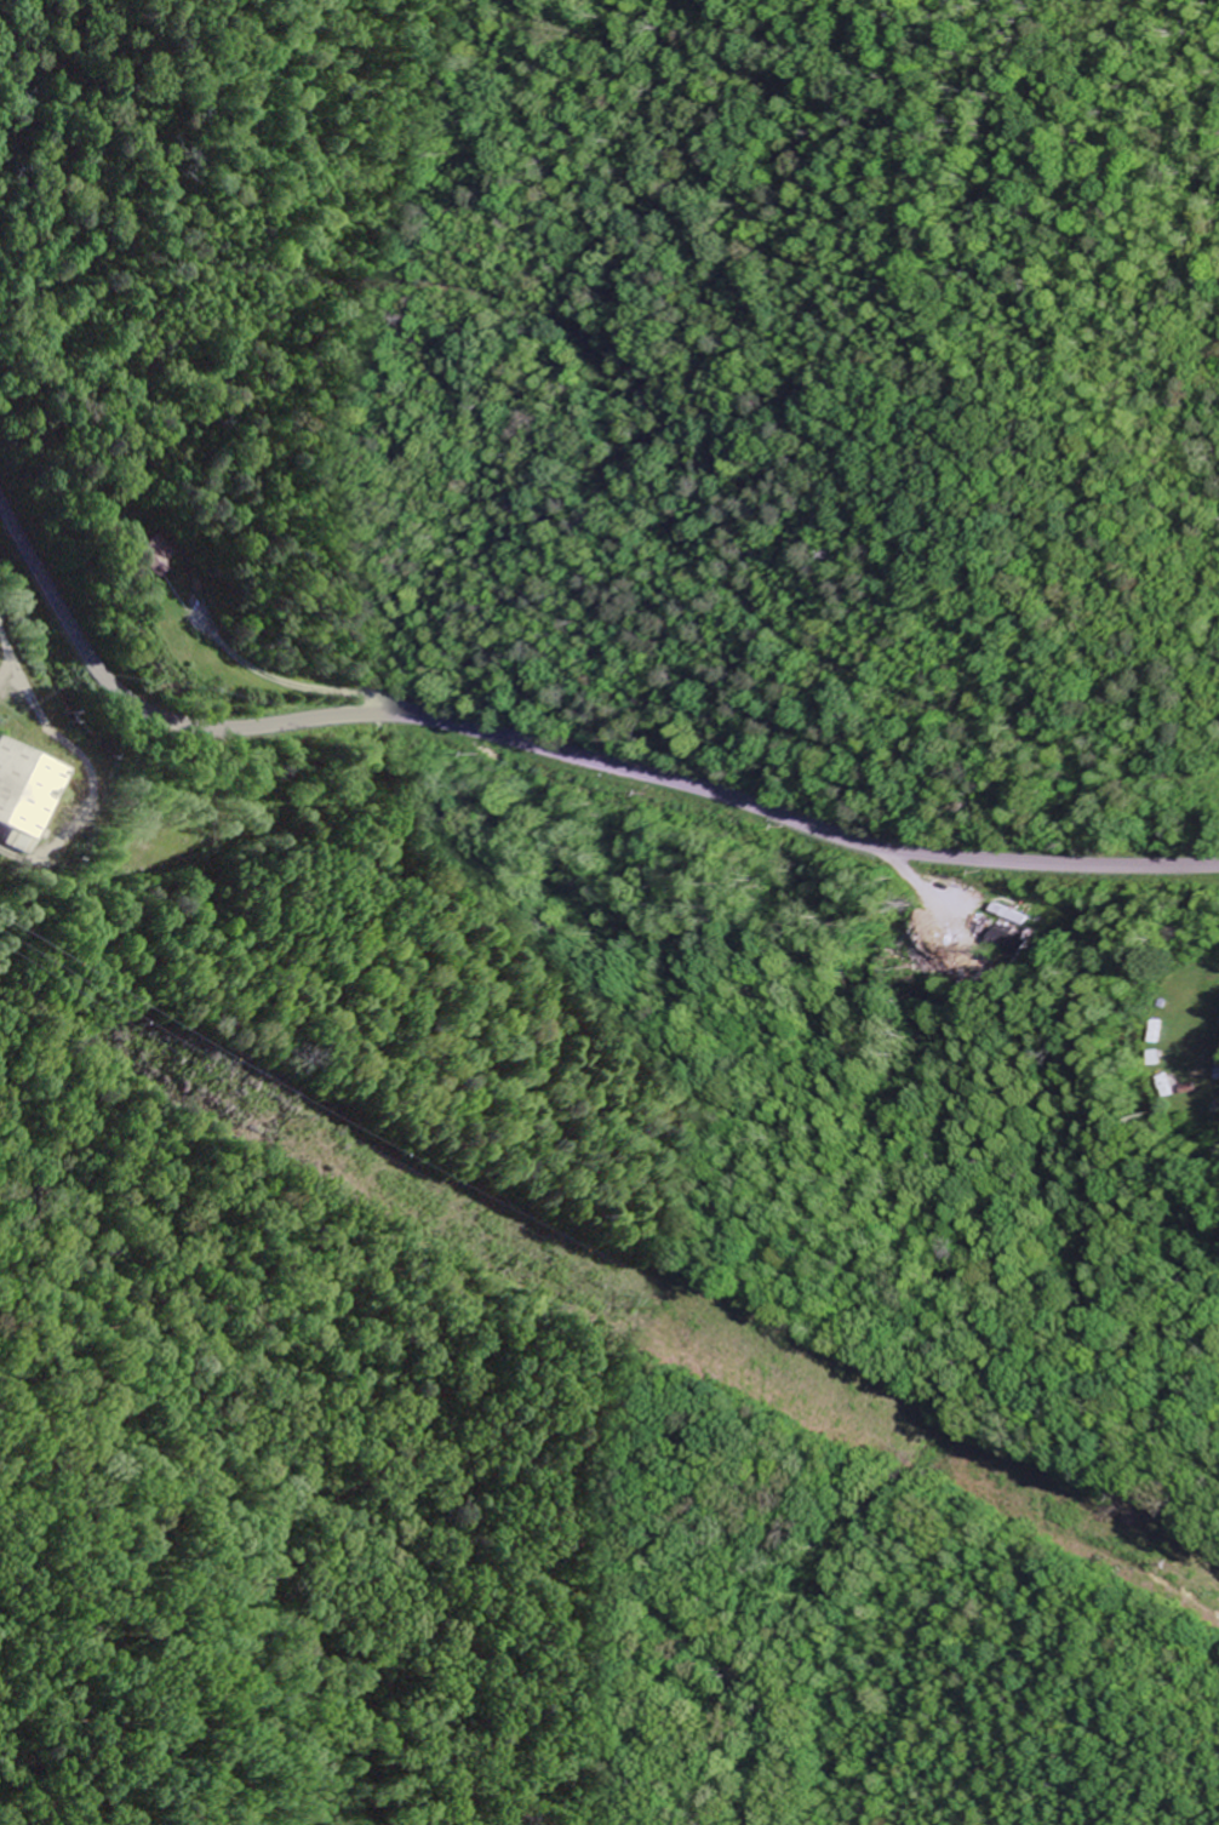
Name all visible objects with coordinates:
building: (154, 557)
road: (286, 682)
road: (554, 760)
building: (28, 794)
road: (942, 888)

